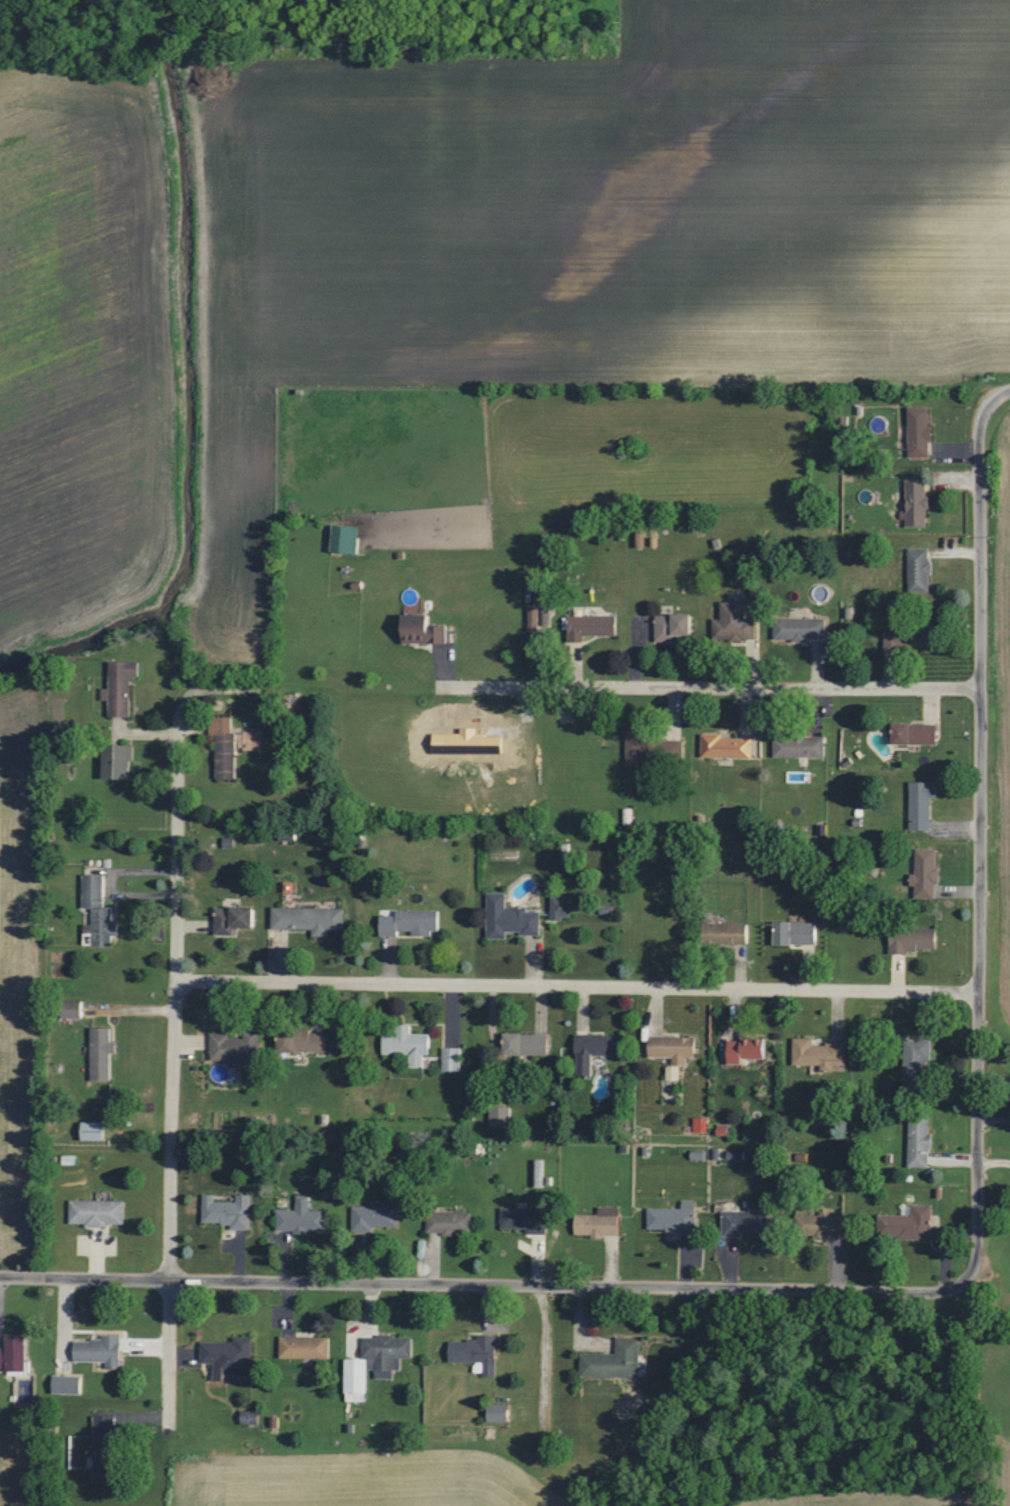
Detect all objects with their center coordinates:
building: (920, 431)
building: (918, 503)
building: (347, 539)
building: (920, 569)
building: (541, 613)
building: (735, 622)
building: (593, 626)
building: (674, 626)
building: (801, 629)
building: (425, 630)
building: (911, 638)
road: (708, 685)
building: (122, 687)
building: (917, 733)
building: (226, 747)
building: (728, 747)
building: (800, 747)
building: (644, 748)
building: (119, 762)
building: (923, 804)
road: (979, 830)
building: (926, 873)
building: (563, 908)
building: (100, 910)
building: (511, 918)
building: (235, 919)
building: (310, 919)
building: (412, 922)
building: (727, 933)
building: (798, 933)
building: (915, 940)
road: (576, 984)
building: (77, 1009)
road: (171, 1027)
building: (304, 1041)
building: (528, 1044)
building: (410, 1045)
building: (237, 1047)
building: (675, 1048)
building: (597, 1049)
building: (748, 1049)
building: (103, 1054)
building: (820, 1054)
building: (453, 1059)
building: (918, 1063)
building: (674, 1073)
building: (502, 1117)
building: (700, 1125)
building: (920, 1142)
building: (229, 1212)
building: (98, 1213)
building: (374, 1217)
building: (303, 1218)
building: (526, 1219)
building: (676, 1219)
building: (746, 1222)
building: (450, 1223)
building: (600, 1223)
building: (826, 1224)
building: (913, 1224)
road: (481, 1282)
building: (306, 1348)
building: (101, 1351)
building: (388, 1353)
building: (478, 1354)
building: (15, 1355)
building: (229, 1357)
building: (615, 1361)
building: (357, 1380)
building: (69, 1385)
building: (500, 1413)
building: (252, 1417)
building: (107, 1450)

